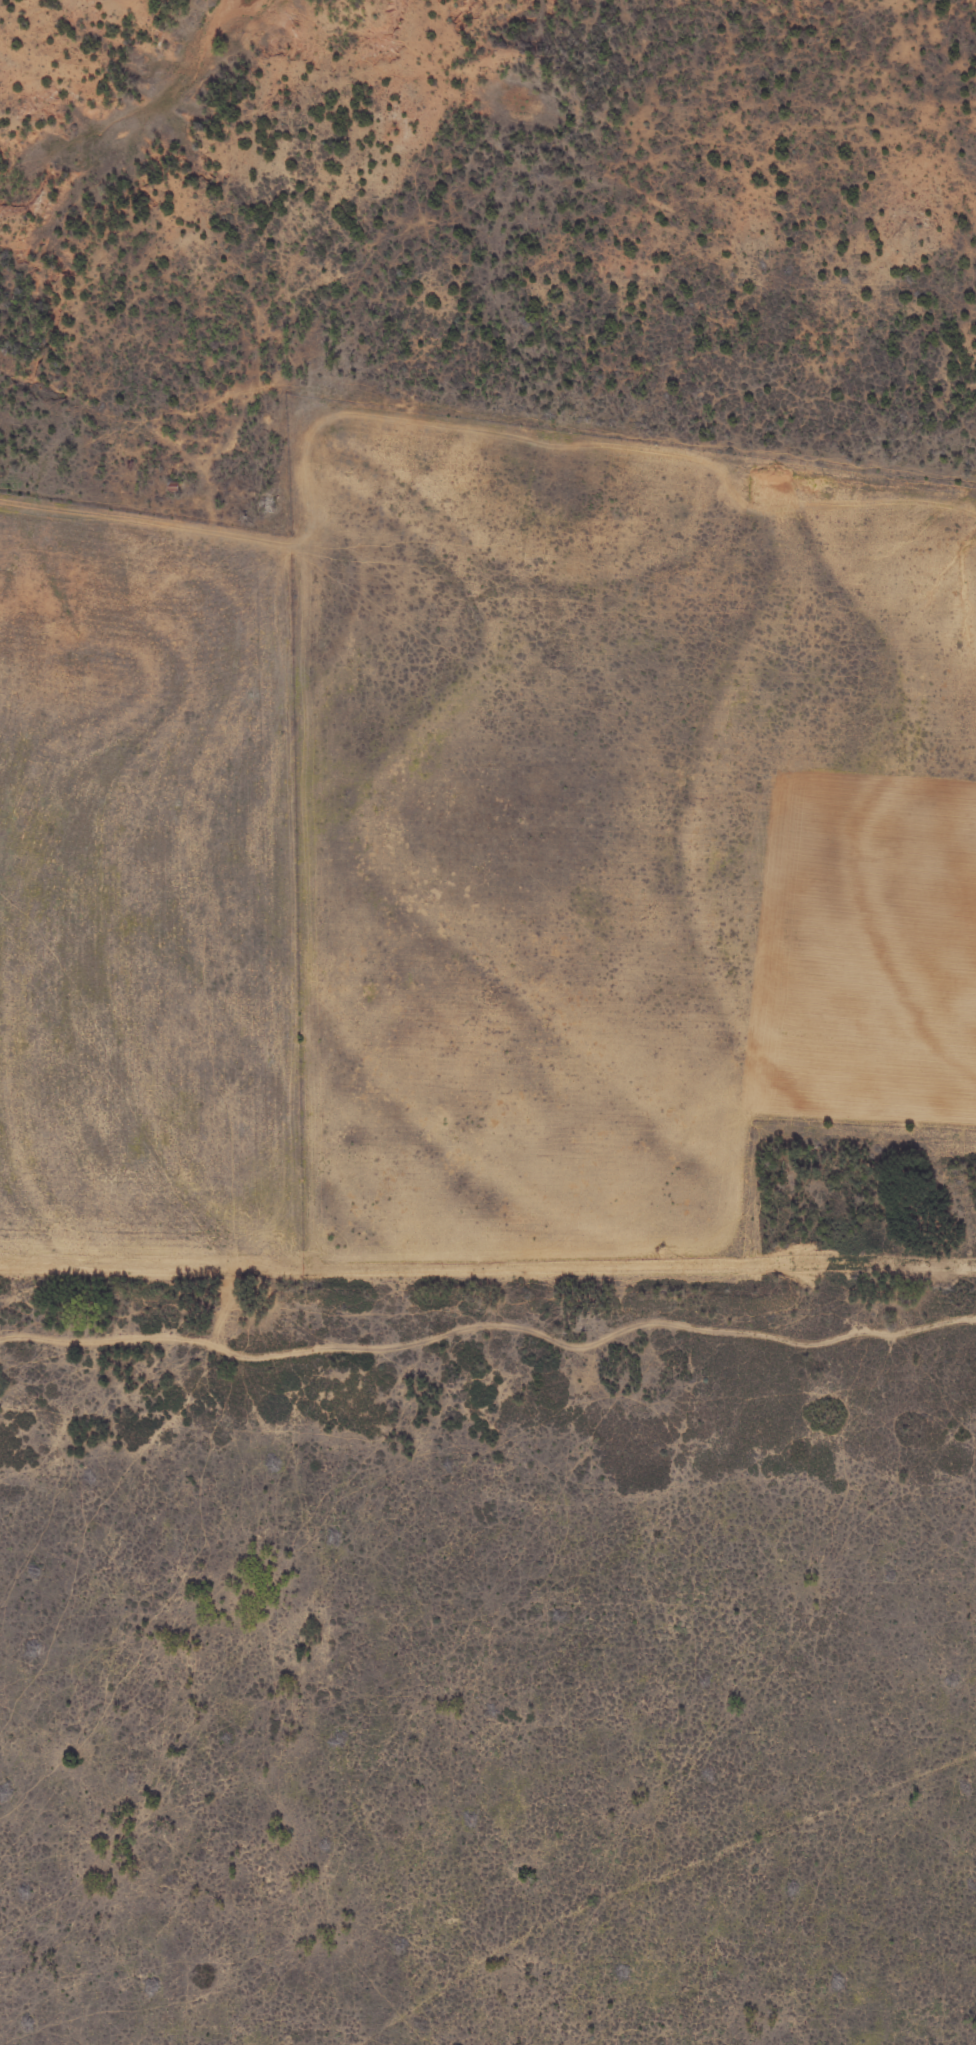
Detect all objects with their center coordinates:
road: (130, 435)
road: (487, 1335)

